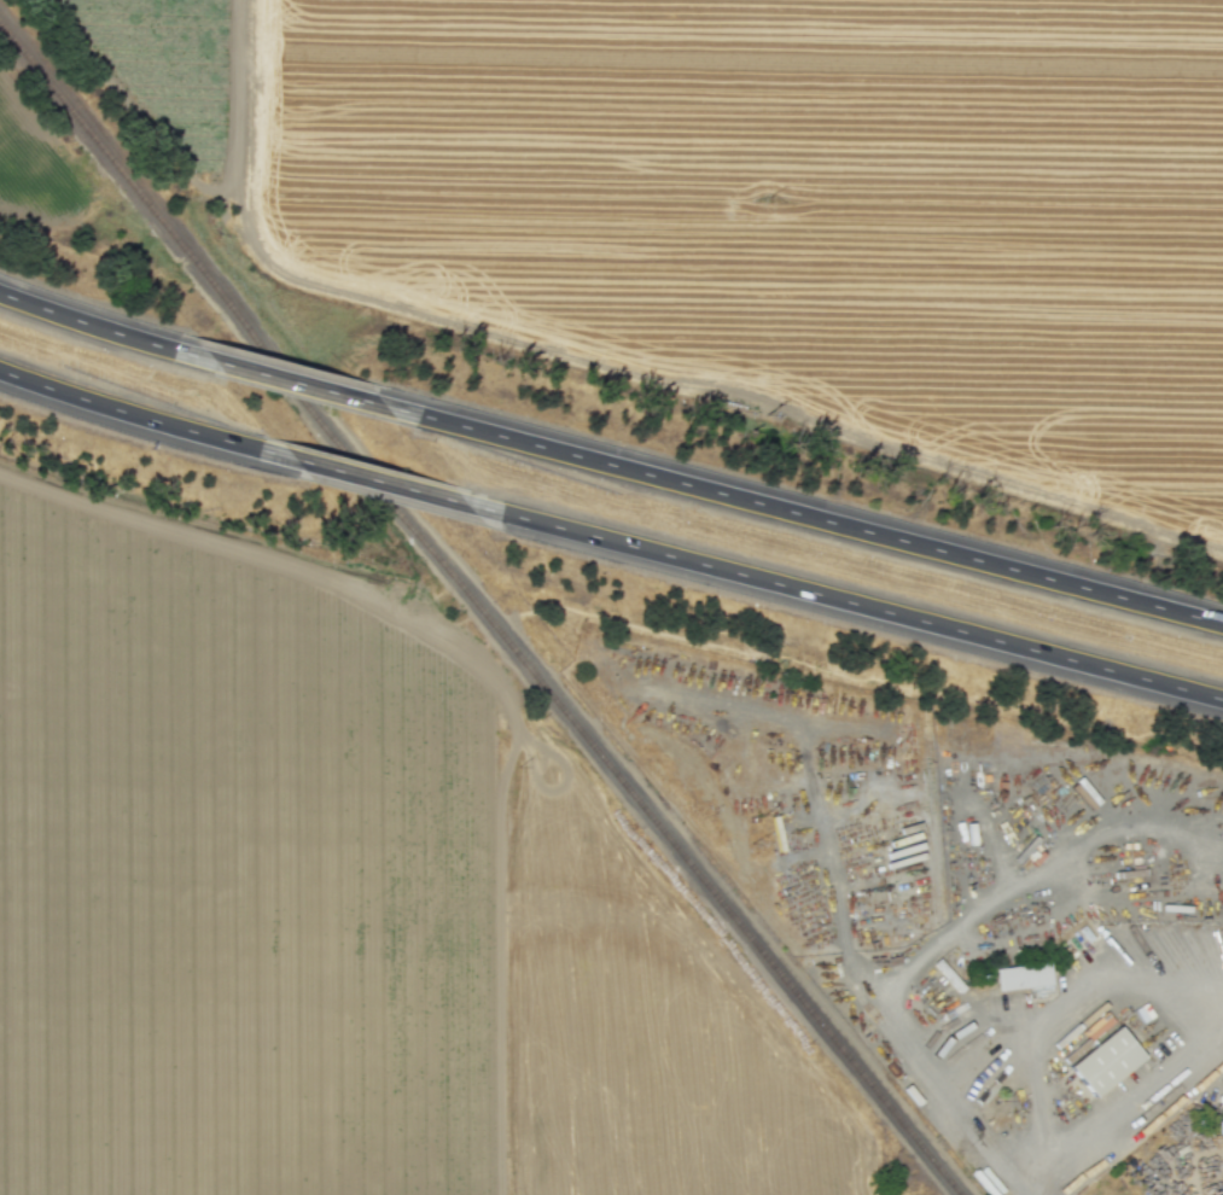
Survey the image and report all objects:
road: (107, 331)
road: (303, 386)
road: (148, 421)
road: (385, 483)
road: (806, 515)
road: (846, 602)
railway: (479, 610)
road: (490, 675)
crop: (232, 880)
road: (939, 938)
building: (1021, 975)
road: (1196, 996)
building: (1105, 1061)
building: (1218, 1125)

